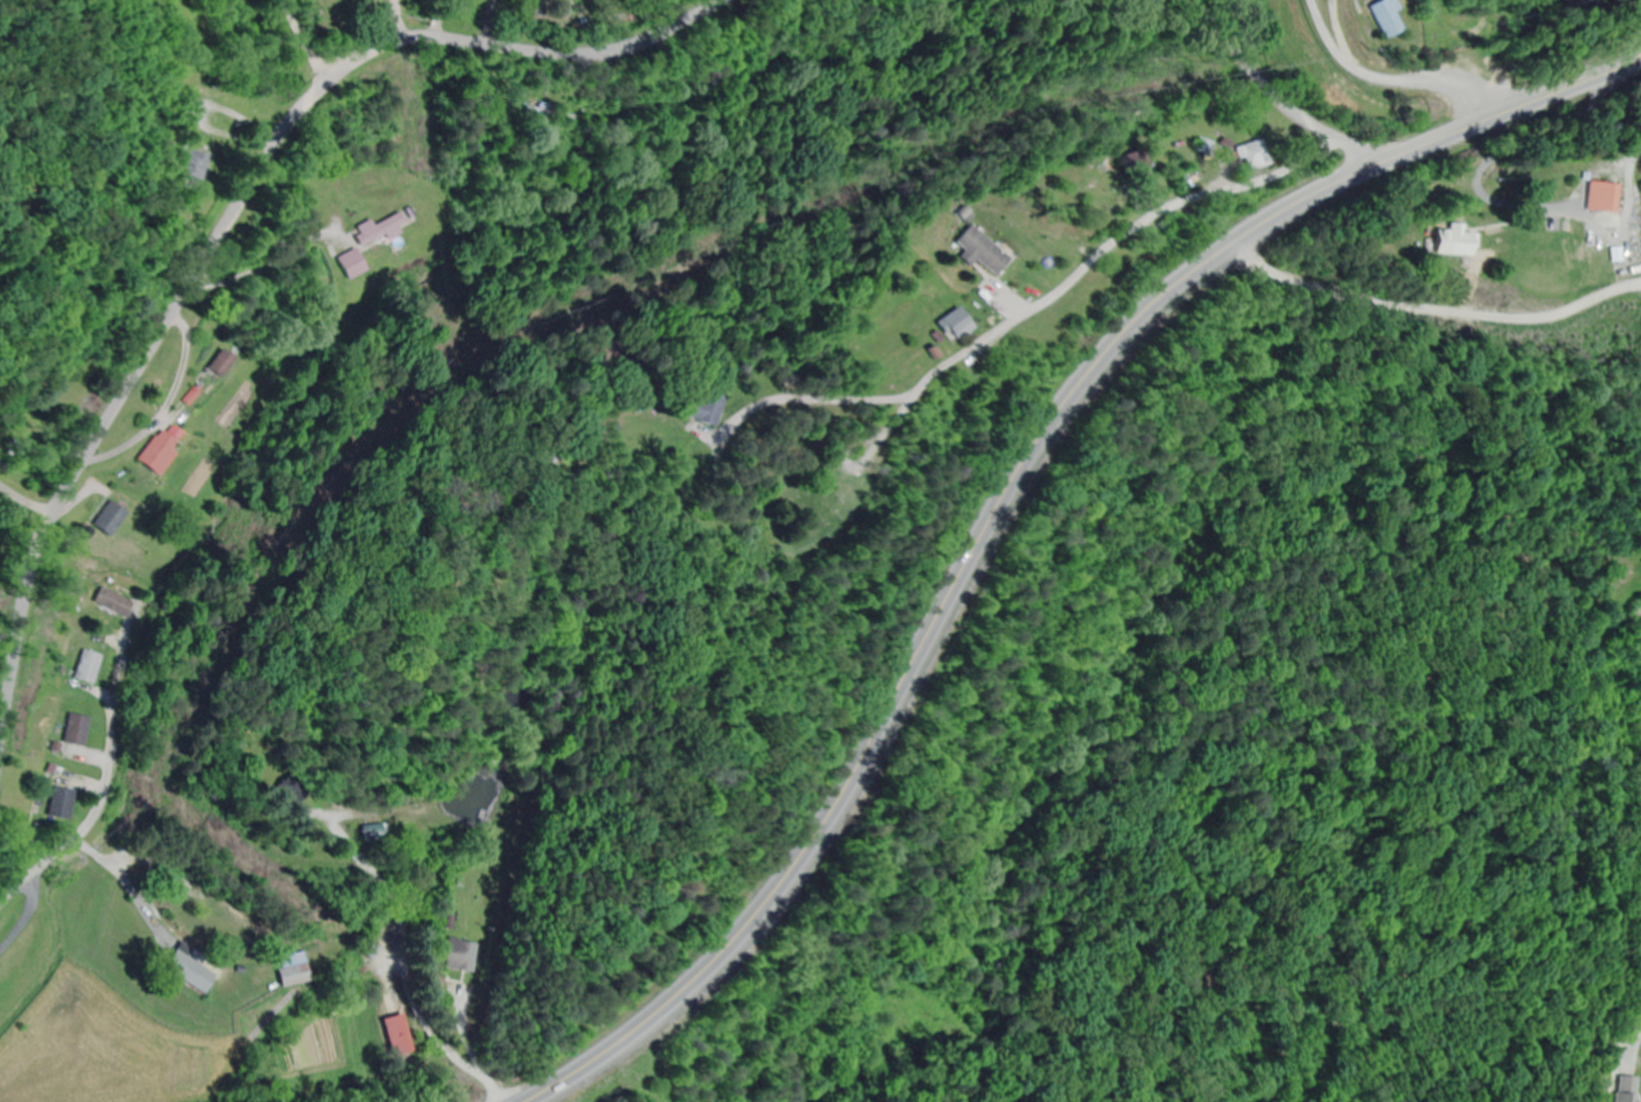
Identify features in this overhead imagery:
building: (1380, 19)
road: (1464, 53)
road: (1277, 96)
building: (1248, 153)
building: (1601, 197)
road: (230, 219)
building: (372, 231)
building: (1447, 239)
building: (978, 251)
building: (350, 269)
road: (1077, 272)
building: (950, 324)
building: (705, 408)
building: (157, 450)
road: (1004, 492)
road: (1524, 516)
building: (1640, 561)
road: (868, 568)
road: (723, 585)
building: (110, 601)
building: (86, 667)
building: (75, 731)
road: (103, 786)
road: (310, 935)
building: (458, 956)
building: (192, 973)
building: (294, 975)
building: (396, 1036)

